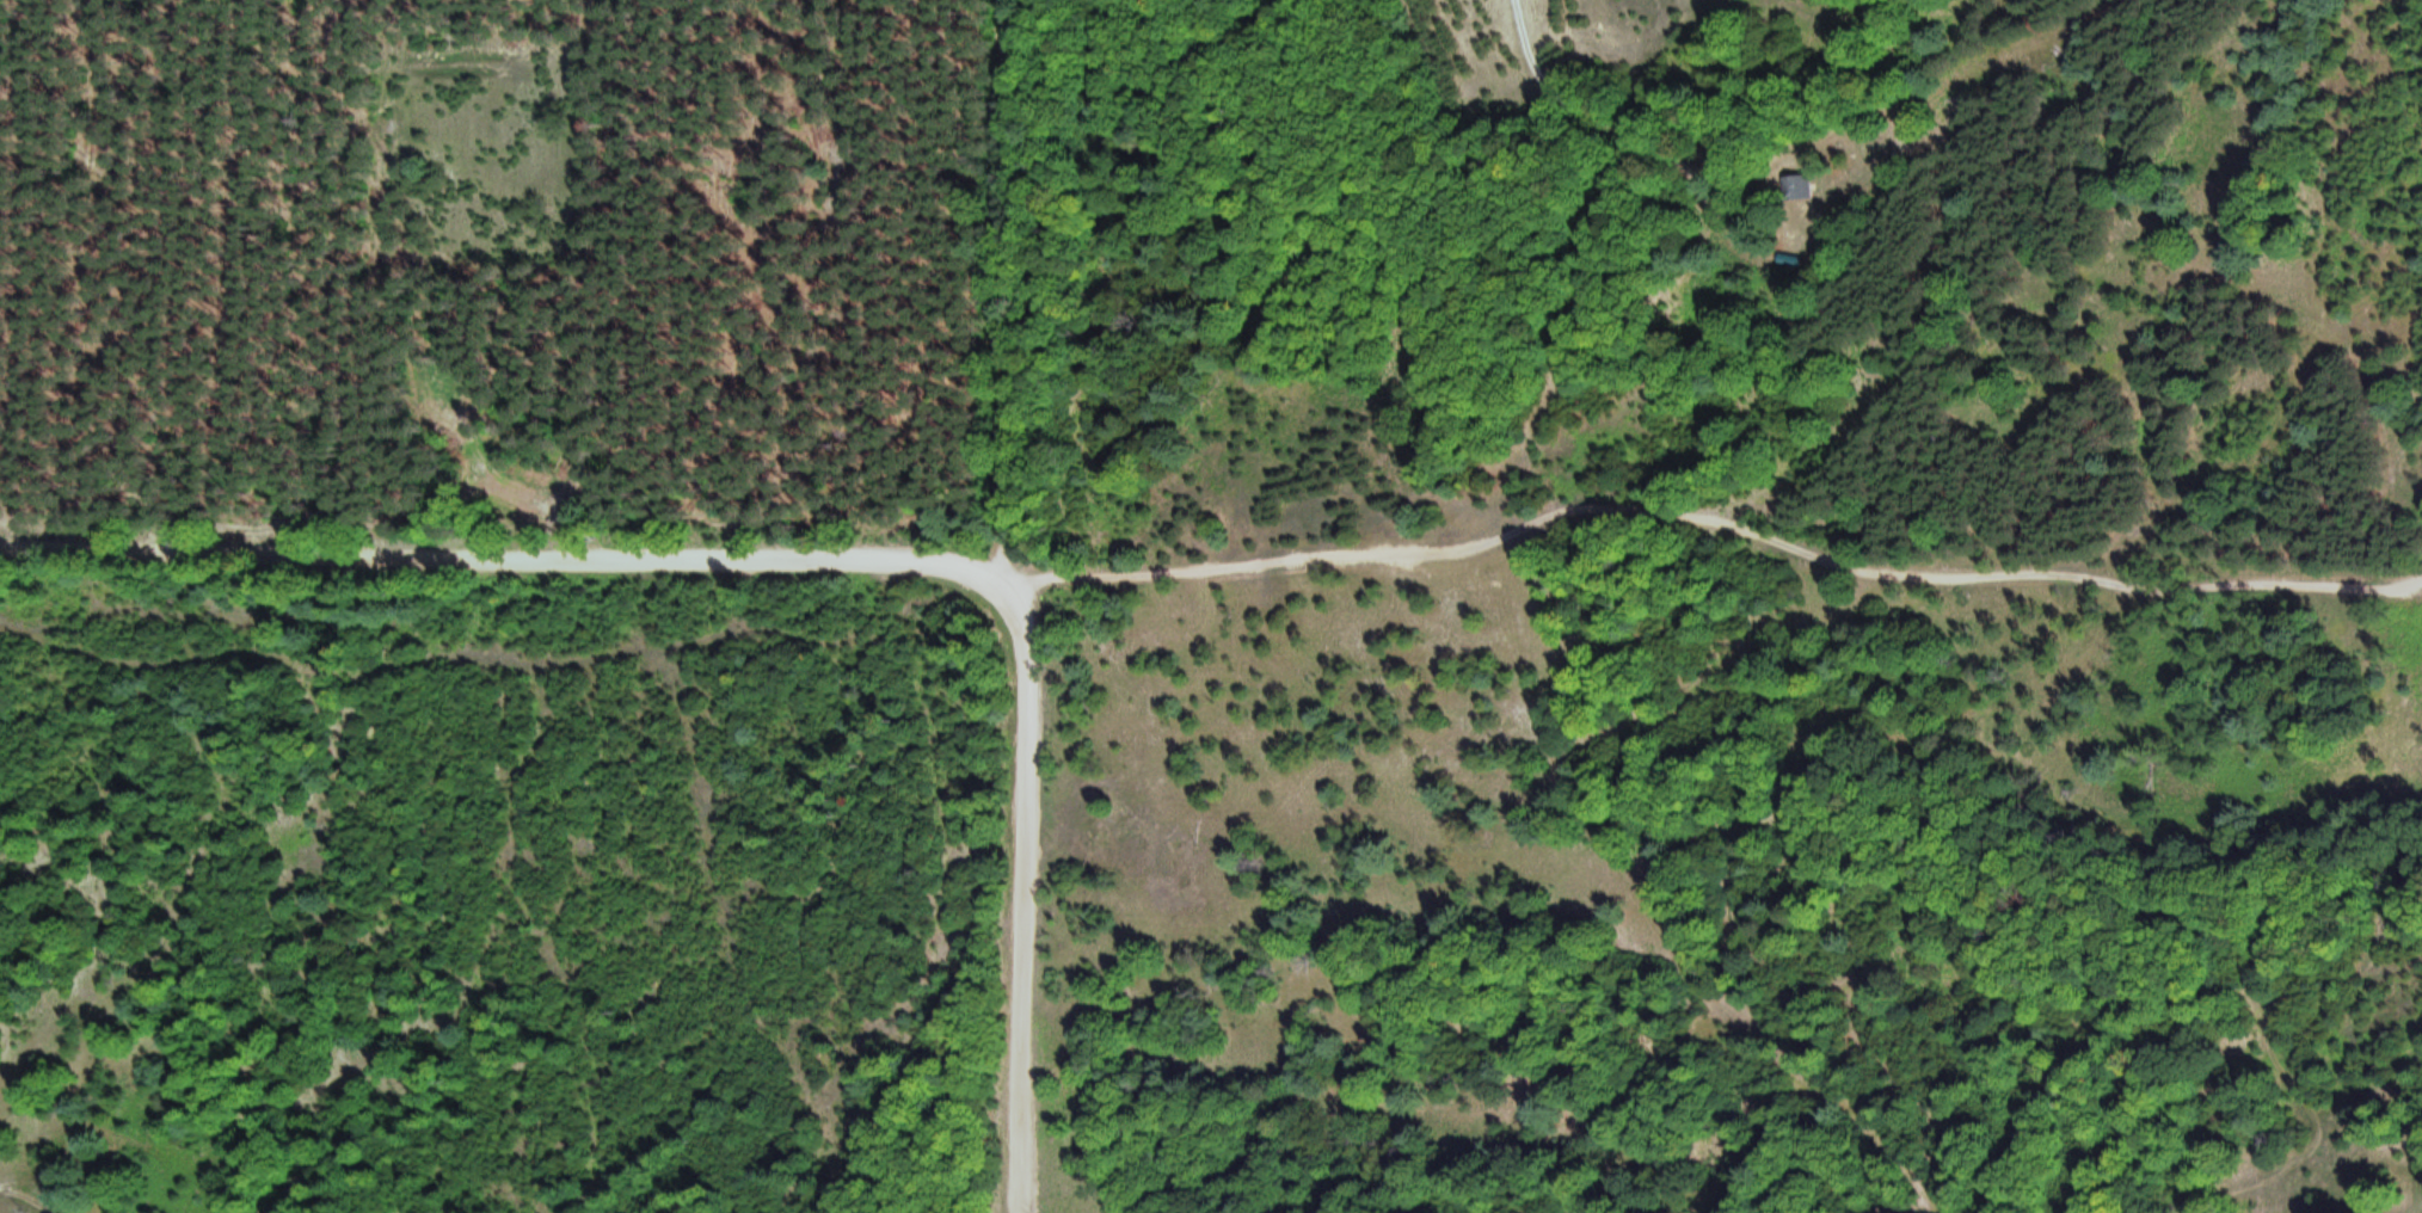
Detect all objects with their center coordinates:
road: (1529, 43)
building: (1796, 185)
road: (998, 290)
road: (820, 559)
road: (1227, 565)
road: (1932, 569)
road: (2293, 1075)

